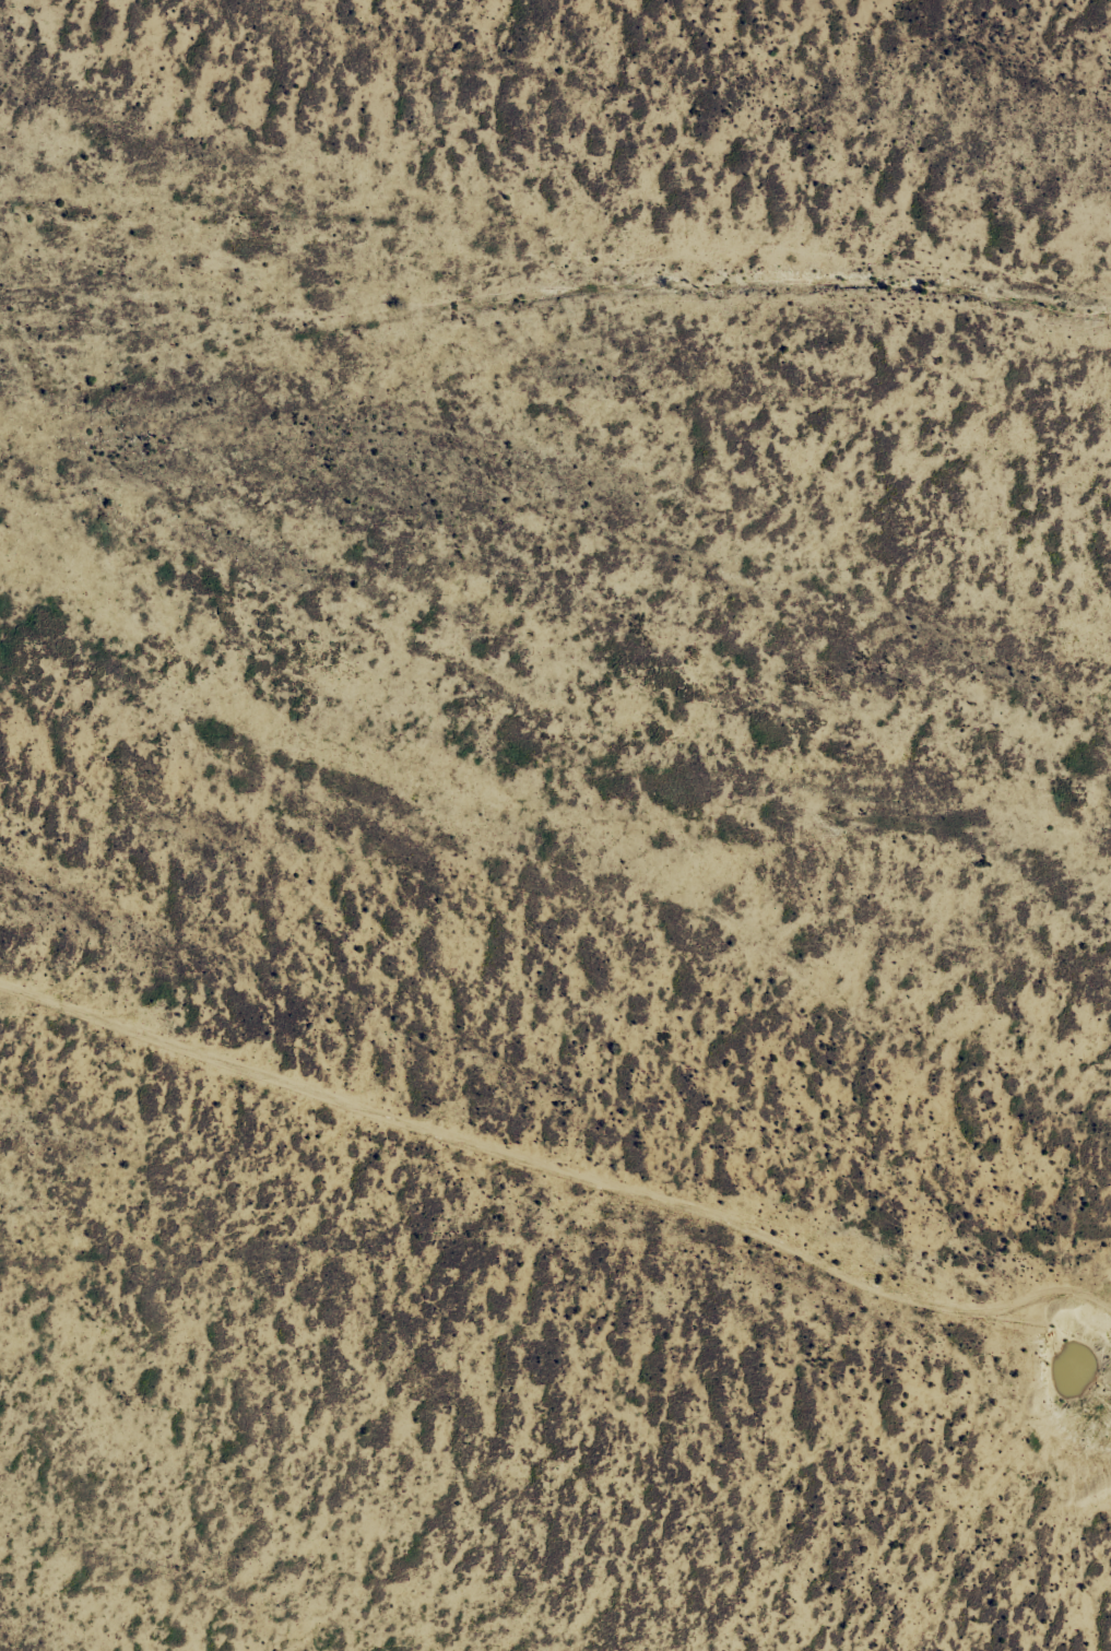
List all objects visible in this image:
road: (556, 1201)

